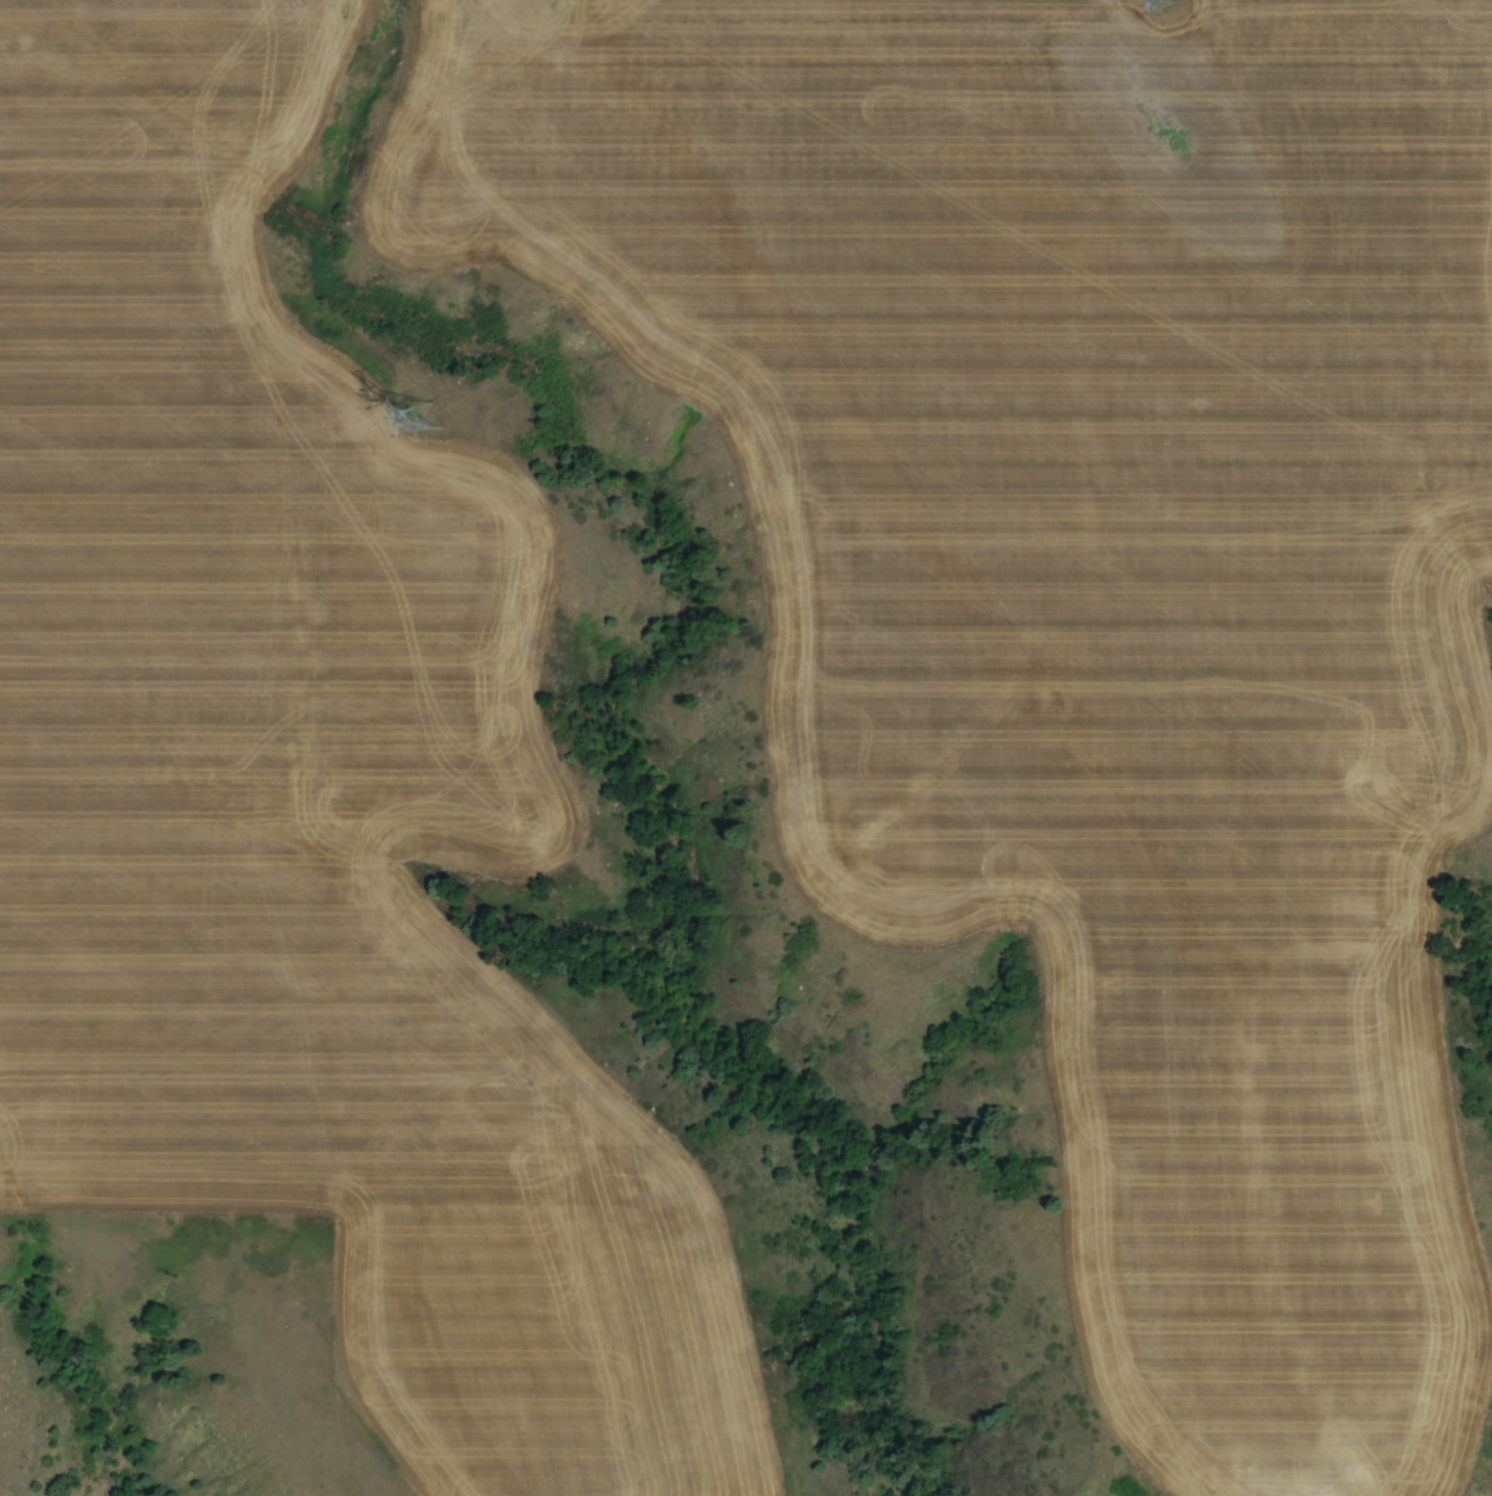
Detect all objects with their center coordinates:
power tower: (422, 420)

